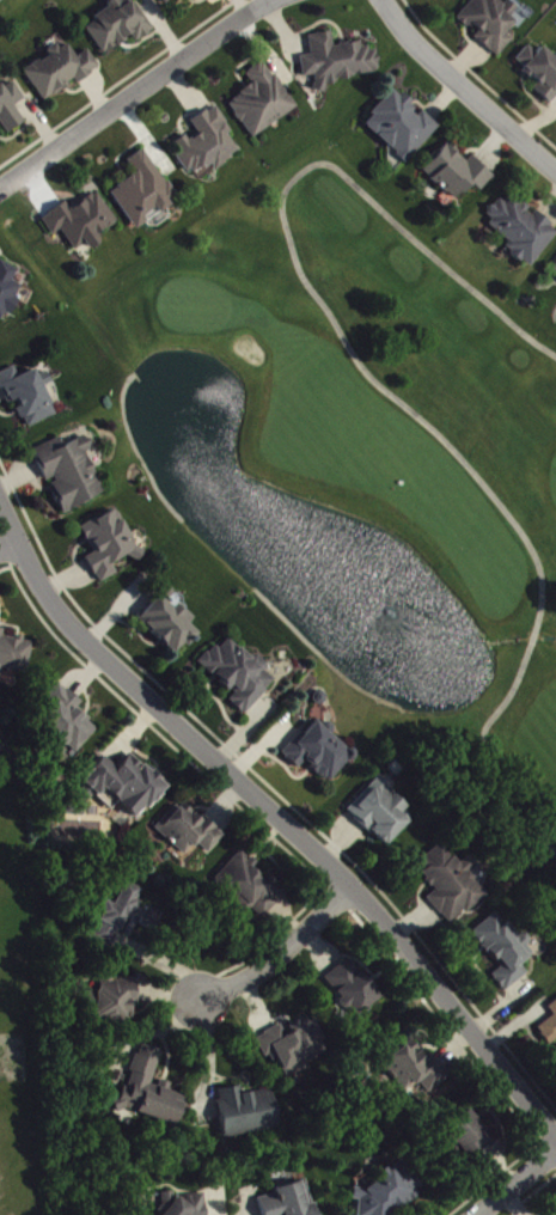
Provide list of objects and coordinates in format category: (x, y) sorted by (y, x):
road: (0, 0)
building: (169, 1)
park: (10, 10)
building: (491, 23)
building: (118, 25)
building: (338, 61)
building: (60, 71)
building: (540, 71)
road: (465, 86)
road: (135, 92)
building: (263, 100)
building: (10, 108)
building: (403, 126)
building: (208, 144)
building: (458, 172)
building: (143, 191)
building: (81, 221)
building: (523, 228)
building: (555, 271)
building: (8, 288)
road: (380, 385)
building: (29, 395)
park: (372, 453)
building: (71, 472)
building: (110, 544)
road: (8, 548)
building: (169, 623)
building: (16, 654)
building: (239, 673)
building: (322, 751)
building: (128, 784)
building: (381, 812)
road: (279, 817)
building: (191, 830)
building: (452, 884)
building: (249, 885)
building: (505, 950)
road: (285, 952)
building: (353, 989)
building: (117, 999)
building: (554, 1008)
building: (549, 1031)
building: (295, 1045)
building: (416, 1069)
building: (149, 1089)
building: (249, 1112)
building: (475, 1137)
road: (518, 1183)
building: (390, 1191)
building: (291, 1201)
building: (184, 1205)

